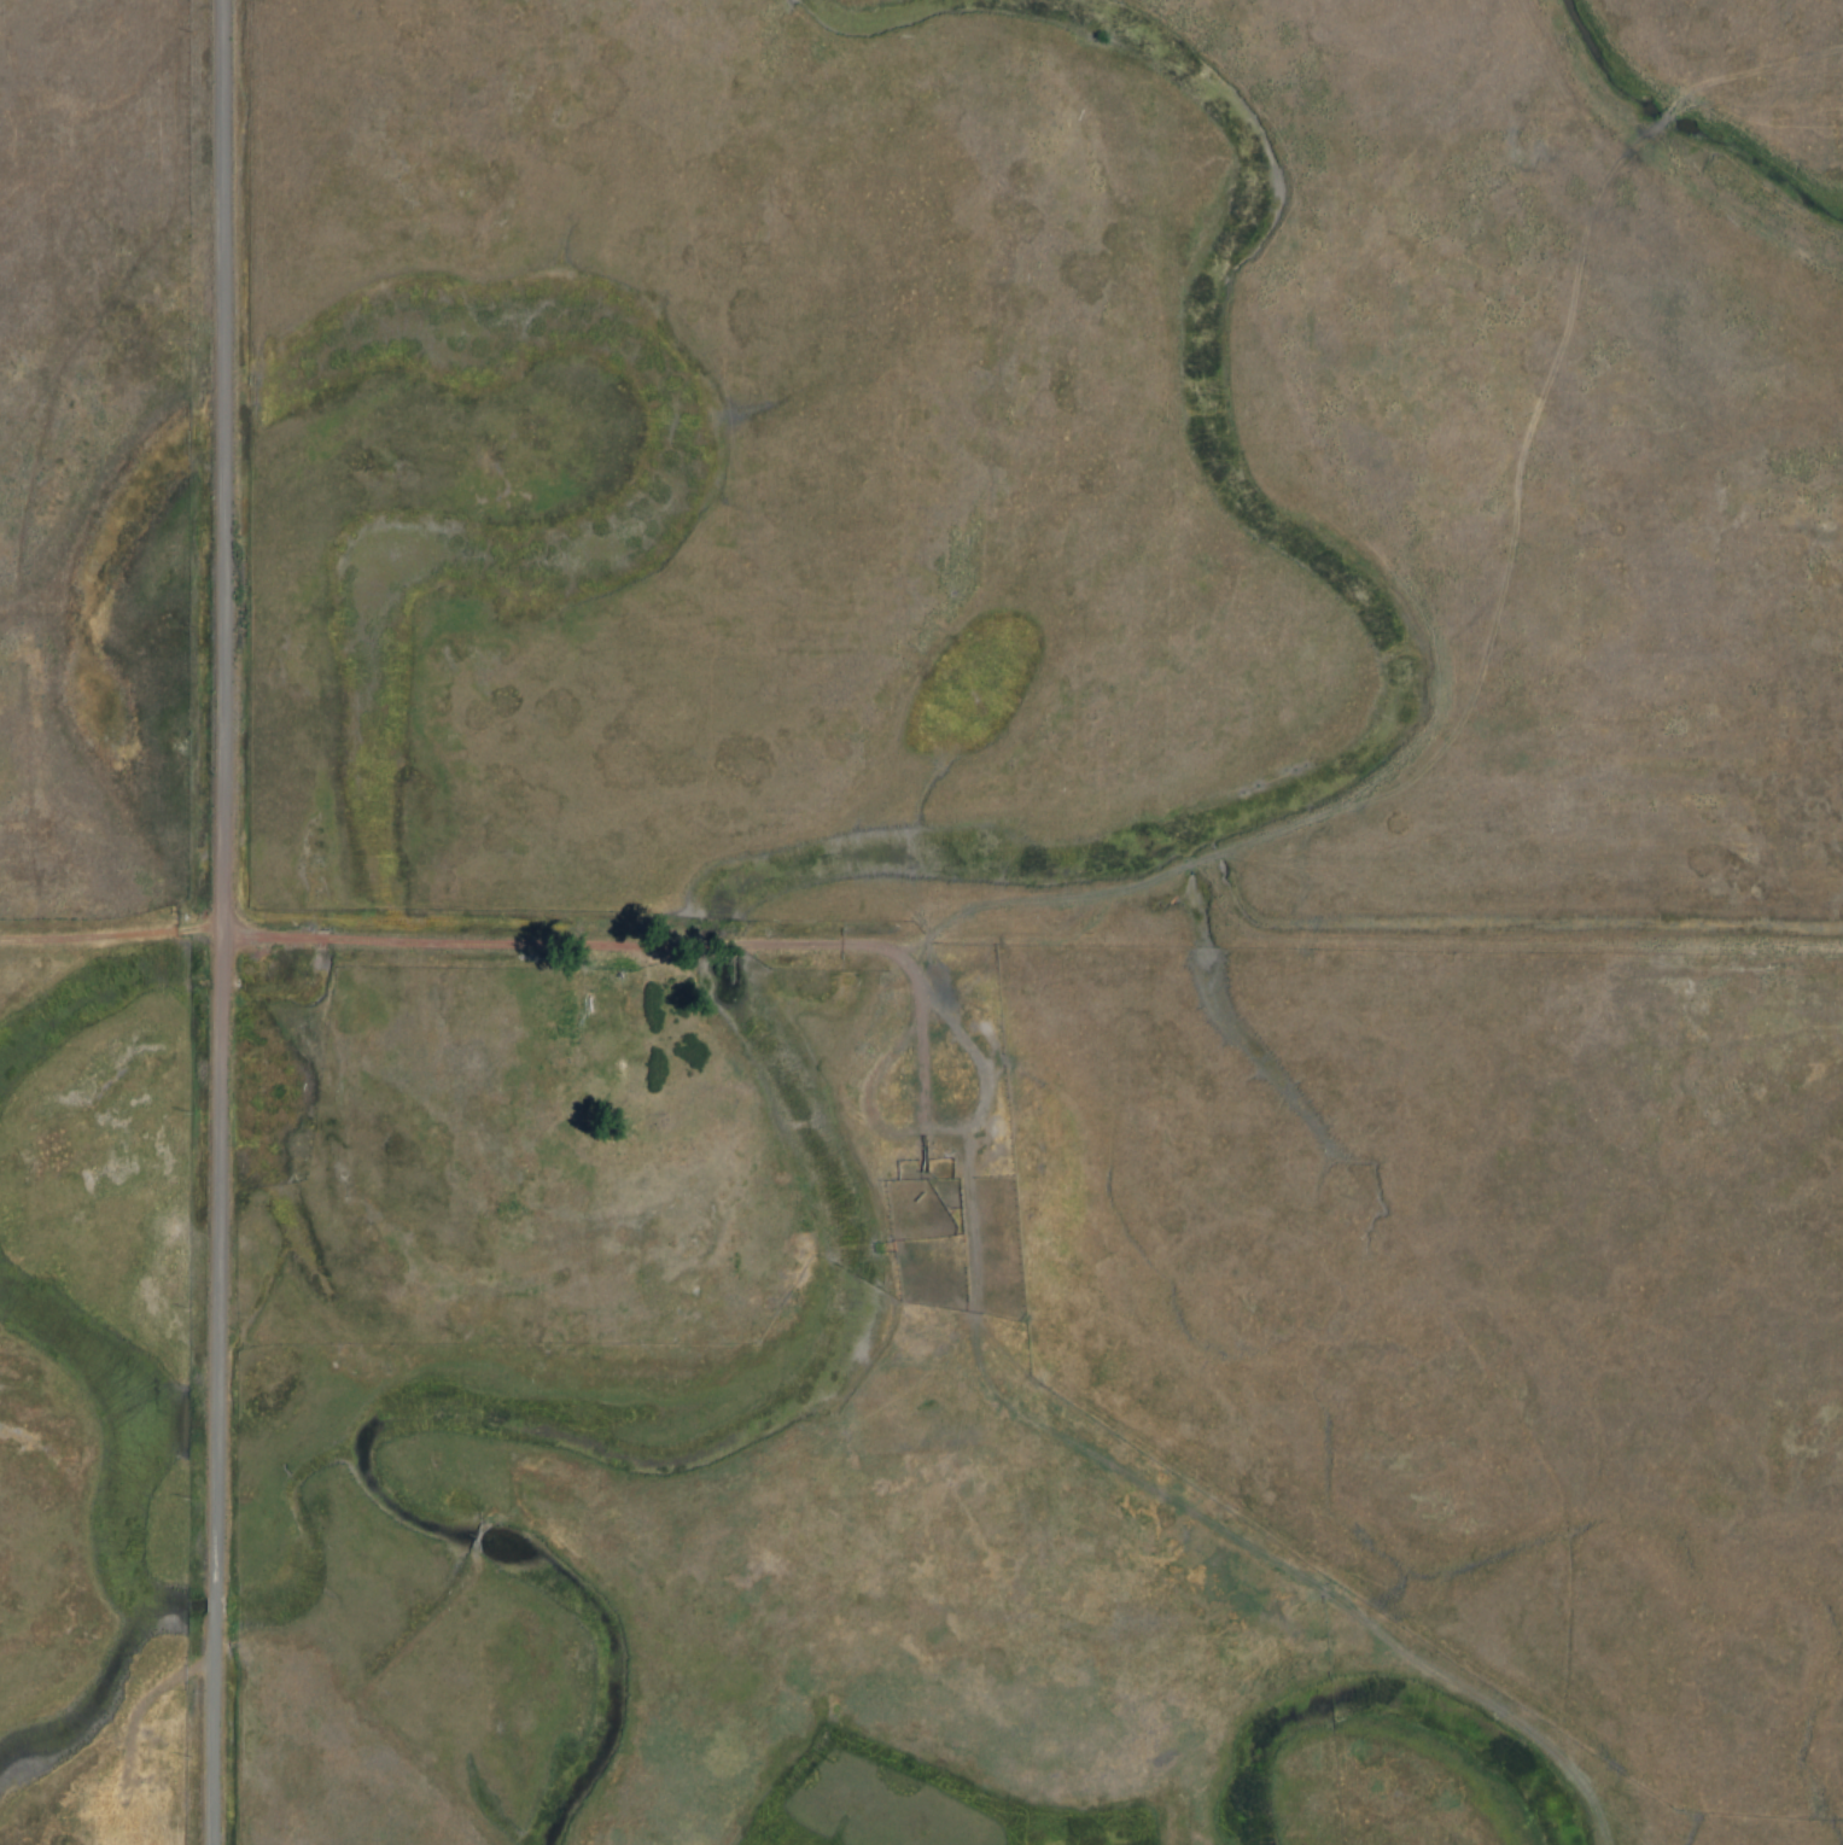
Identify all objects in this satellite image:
road: (115, 845)
road: (229, 922)
road: (470, 945)
road: (867, 1091)
road: (964, 1126)
road: (1205, 1524)
road: (145, 1704)

